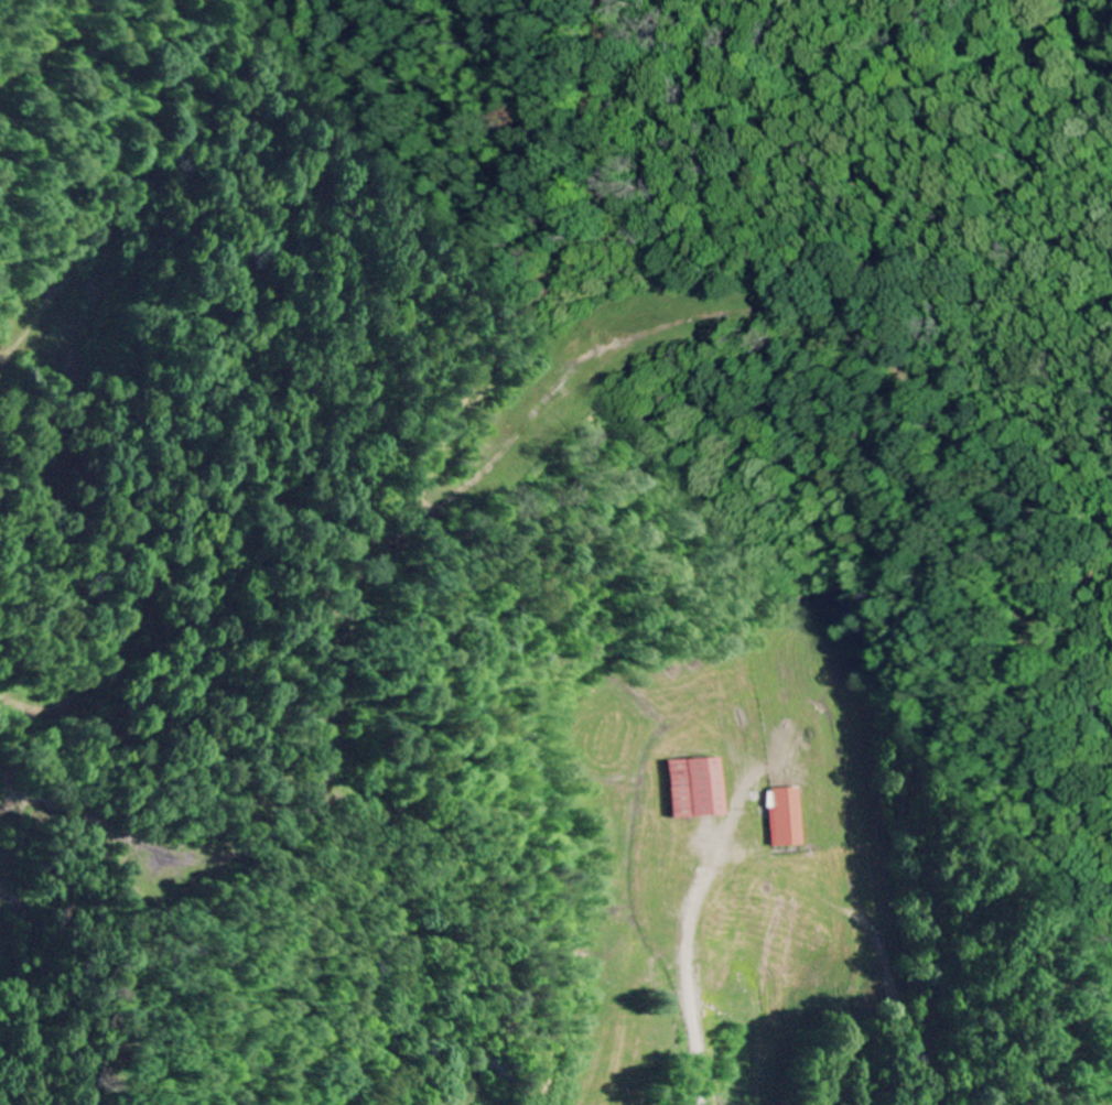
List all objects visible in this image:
building: (684, 789)
building: (770, 817)

